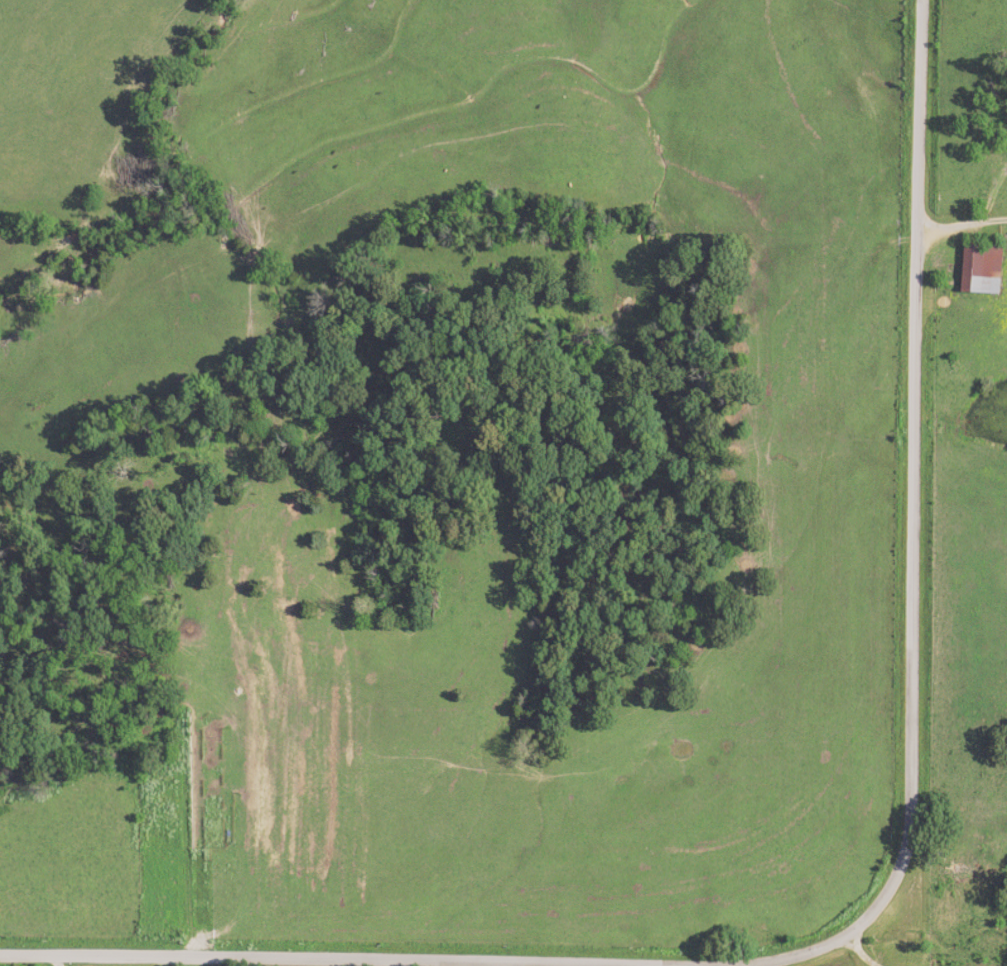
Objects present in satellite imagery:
road: (958, 225)
building: (978, 271)
road: (907, 531)
road: (856, 952)
road: (328, 960)
road: (53, 962)
road: (511, 964)

